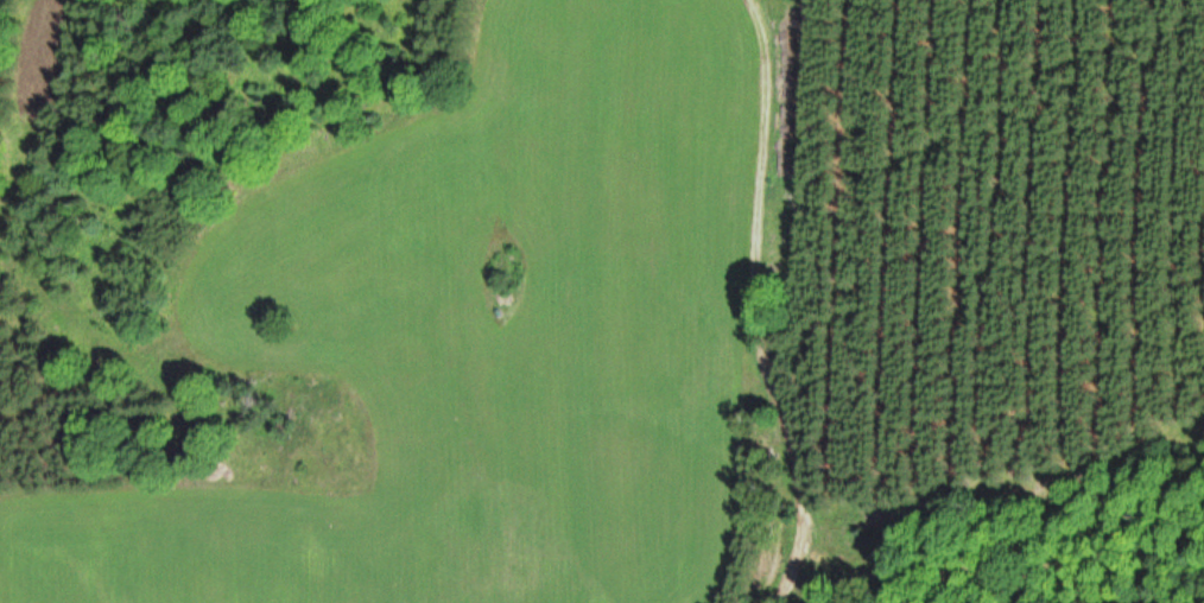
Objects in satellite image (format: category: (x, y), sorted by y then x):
road: (754, 305)

